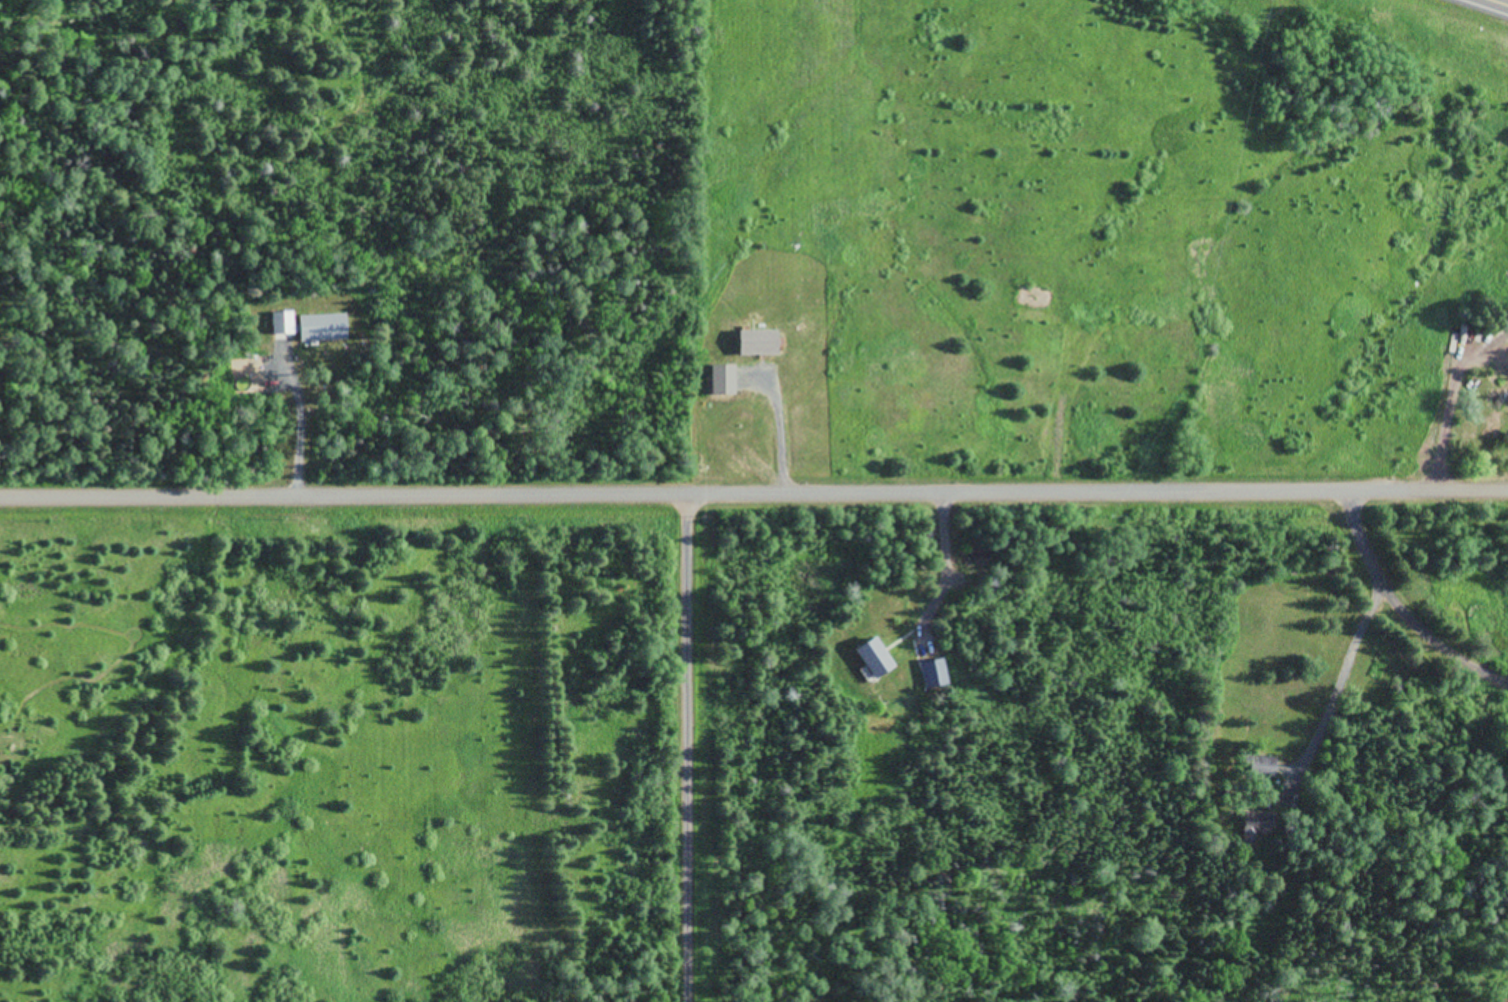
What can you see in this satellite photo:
road: (1500, 2)
building: (312, 327)
building: (762, 344)
building: (1496, 356)
building: (1495, 387)
road: (754, 496)
building: (866, 658)
building: (933, 673)
road: (685, 749)

